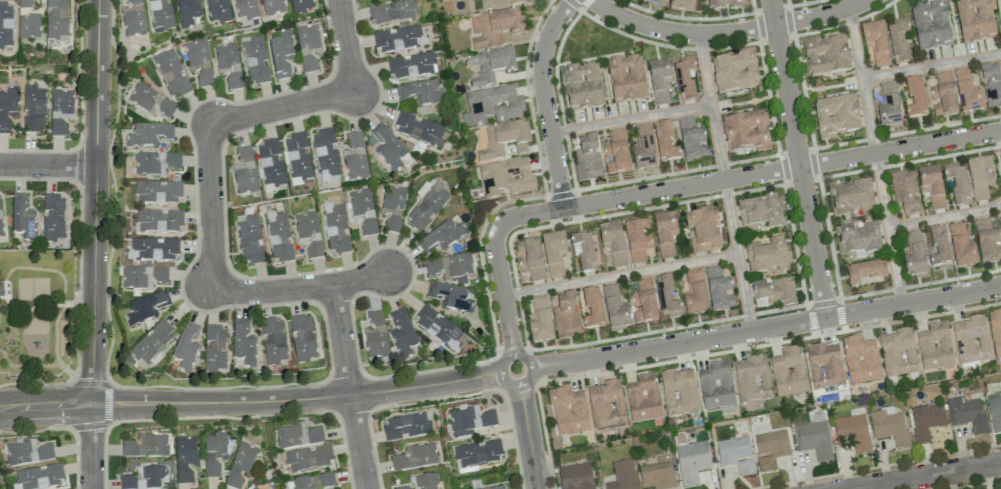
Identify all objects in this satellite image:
building: (653, 2)
building: (498, 4)
building: (726, 4)
building: (301, 5)
building: (682, 5)
building: (272, 7)
road: (999, 8)
building: (245, 9)
building: (218, 11)
building: (188, 12)
building: (393, 12)
building: (160, 15)
building: (133, 18)
building: (28, 20)
building: (57, 20)
building: (975, 20)
building: (5, 24)
building: (493, 27)
building: (931, 27)
road: (726, 32)
building: (307, 39)
building: (399, 39)
park: (590, 39)
building: (899, 41)
building: (876, 43)
road: (345, 45)
building: (197, 53)
building: (281, 54)
building: (826, 56)
building: (255, 60)
building: (228, 64)
building: (412, 65)
building: (492, 65)
road: (931, 66)
building: (735, 71)
building: (171, 72)
building: (684, 77)
building: (204, 78)
building: (626, 79)
road: (861, 80)
building: (659, 82)
building: (991, 85)
building: (582, 87)
building: (967, 92)
building: (421, 93)
building: (943, 95)
building: (915, 98)
building: (150, 100)
road: (545, 100)
building: (61, 101)
road: (739, 103)
building: (492, 105)
building: (888, 106)
road: (280, 107)
building: (8, 108)
building: (33, 108)
road: (666, 113)
building: (836, 116)
building: (58, 127)
building: (419, 129)
road: (810, 131)
building: (745, 132)
building: (149, 135)
building: (692, 140)
building: (504, 141)
building: (665, 142)
road: (717, 142)
building: (388, 148)
building: (643, 149)
building: (616, 153)
building: (325, 154)
building: (298, 158)
building: (355, 158)
building: (587, 158)
road: (797, 159)
road: (731, 162)
building: (155, 163)
building: (270, 163)
road: (47, 165)
building: (245, 172)
road: (746, 175)
building: (505, 178)
building: (980, 178)
building: (957, 183)
building: (932, 186)
road: (114, 191)
building: (157, 192)
building: (905, 192)
building: (850, 197)
road: (94, 202)
road: (210, 206)
building: (393, 206)
building: (428, 206)
building: (363, 210)
building: (1000, 213)
building: (760, 214)
building: (22, 217)
road: (945, 217)
building: (53, 218)
building: (159, 221)
building: (306, 225)
building: (335, 227)
road: (888, 229)
building: (702, 230)
building: (0, 231)
building: (665, 233)
building: (279, 237)
building: (441, 237)
building: (637, 239)
building: (249, 240)
building: (858, 240)
building: (988, 241)
building: (613, 243)
building: (940, 247)
building: (961, 247)
building: (155, 248)
building: (314, 249)
building: (583, 252)
building: (553, 254)
road: (738, 254)
building: (767, 255)
building: (915, 256)
building: (530, 259)
building: (450, 267)
building: (865, 272)
road: (620, 275)
building: (143, 277)
road: (301, 289)
building: (718, 289)
building: (774, 291)
road: (804, 291)
road: (502, 292)
building: (695, 294)
building: (449, 297)
building: (666, 298)
building: (643, 302)
building: (145, 309)
building: (592, 309)
building: (615, 309)
park: (34, 310)
building: (566, 316)
building: (540, 321)
building: (436, 326)
road: (765, 327)
building: (995, 332)
building: (402, 333)
building: (376, 336)
building: (302, 339)
building: (273, 340)
building: (970, 340)
building: (151, 343)
building: (243, 344)
building: (934, 347)
building: (185, 348)
building: (215, 349)
building: (898, 353)
building: (860, 360)
building: (825, 366)
road: (499, 372)
building: (788, 372)
building: (751, 379)
road: (90, 382)
road: (35, 383)
building: (716, 385)
road: (219, 387)
road: (348, 387)
building: (678, 392)
building: (643, 398)
road: (295, 399)
road: (107, 403)
building: (606, 404)
road: (45, 407)
building: (568, 411)
building: (994, 412)
building: (967, 414)
road: (220, 417)
building: (470, 421)
building: (926, 421)
road: (89, 425)
building: (406, 427)
building: (889, 428)
road: (35, 431)
building: (853, 432)
building: (298, 436)
road: (529, 437)
building: (814, 440)
road: (91, 446)
building: (146, 446)
building: (770, 449)
building: (732, 450)
building: (27, 453)
building: (214, 453)
building: (477, 453)
building: (415, 457)
building: (185, 458)
building: (308, 458)
building: (692, 462)
building: (241, 465)
building: (745, 467)
building: (657, 474)
building: (576, 476)
building: (622, 476)
road: (927, 476)
building: (38, 477)
building: (144, 478)
building: (314, 482)
building: (422, 482)
building: (255, 487)
building: (497, 487)

